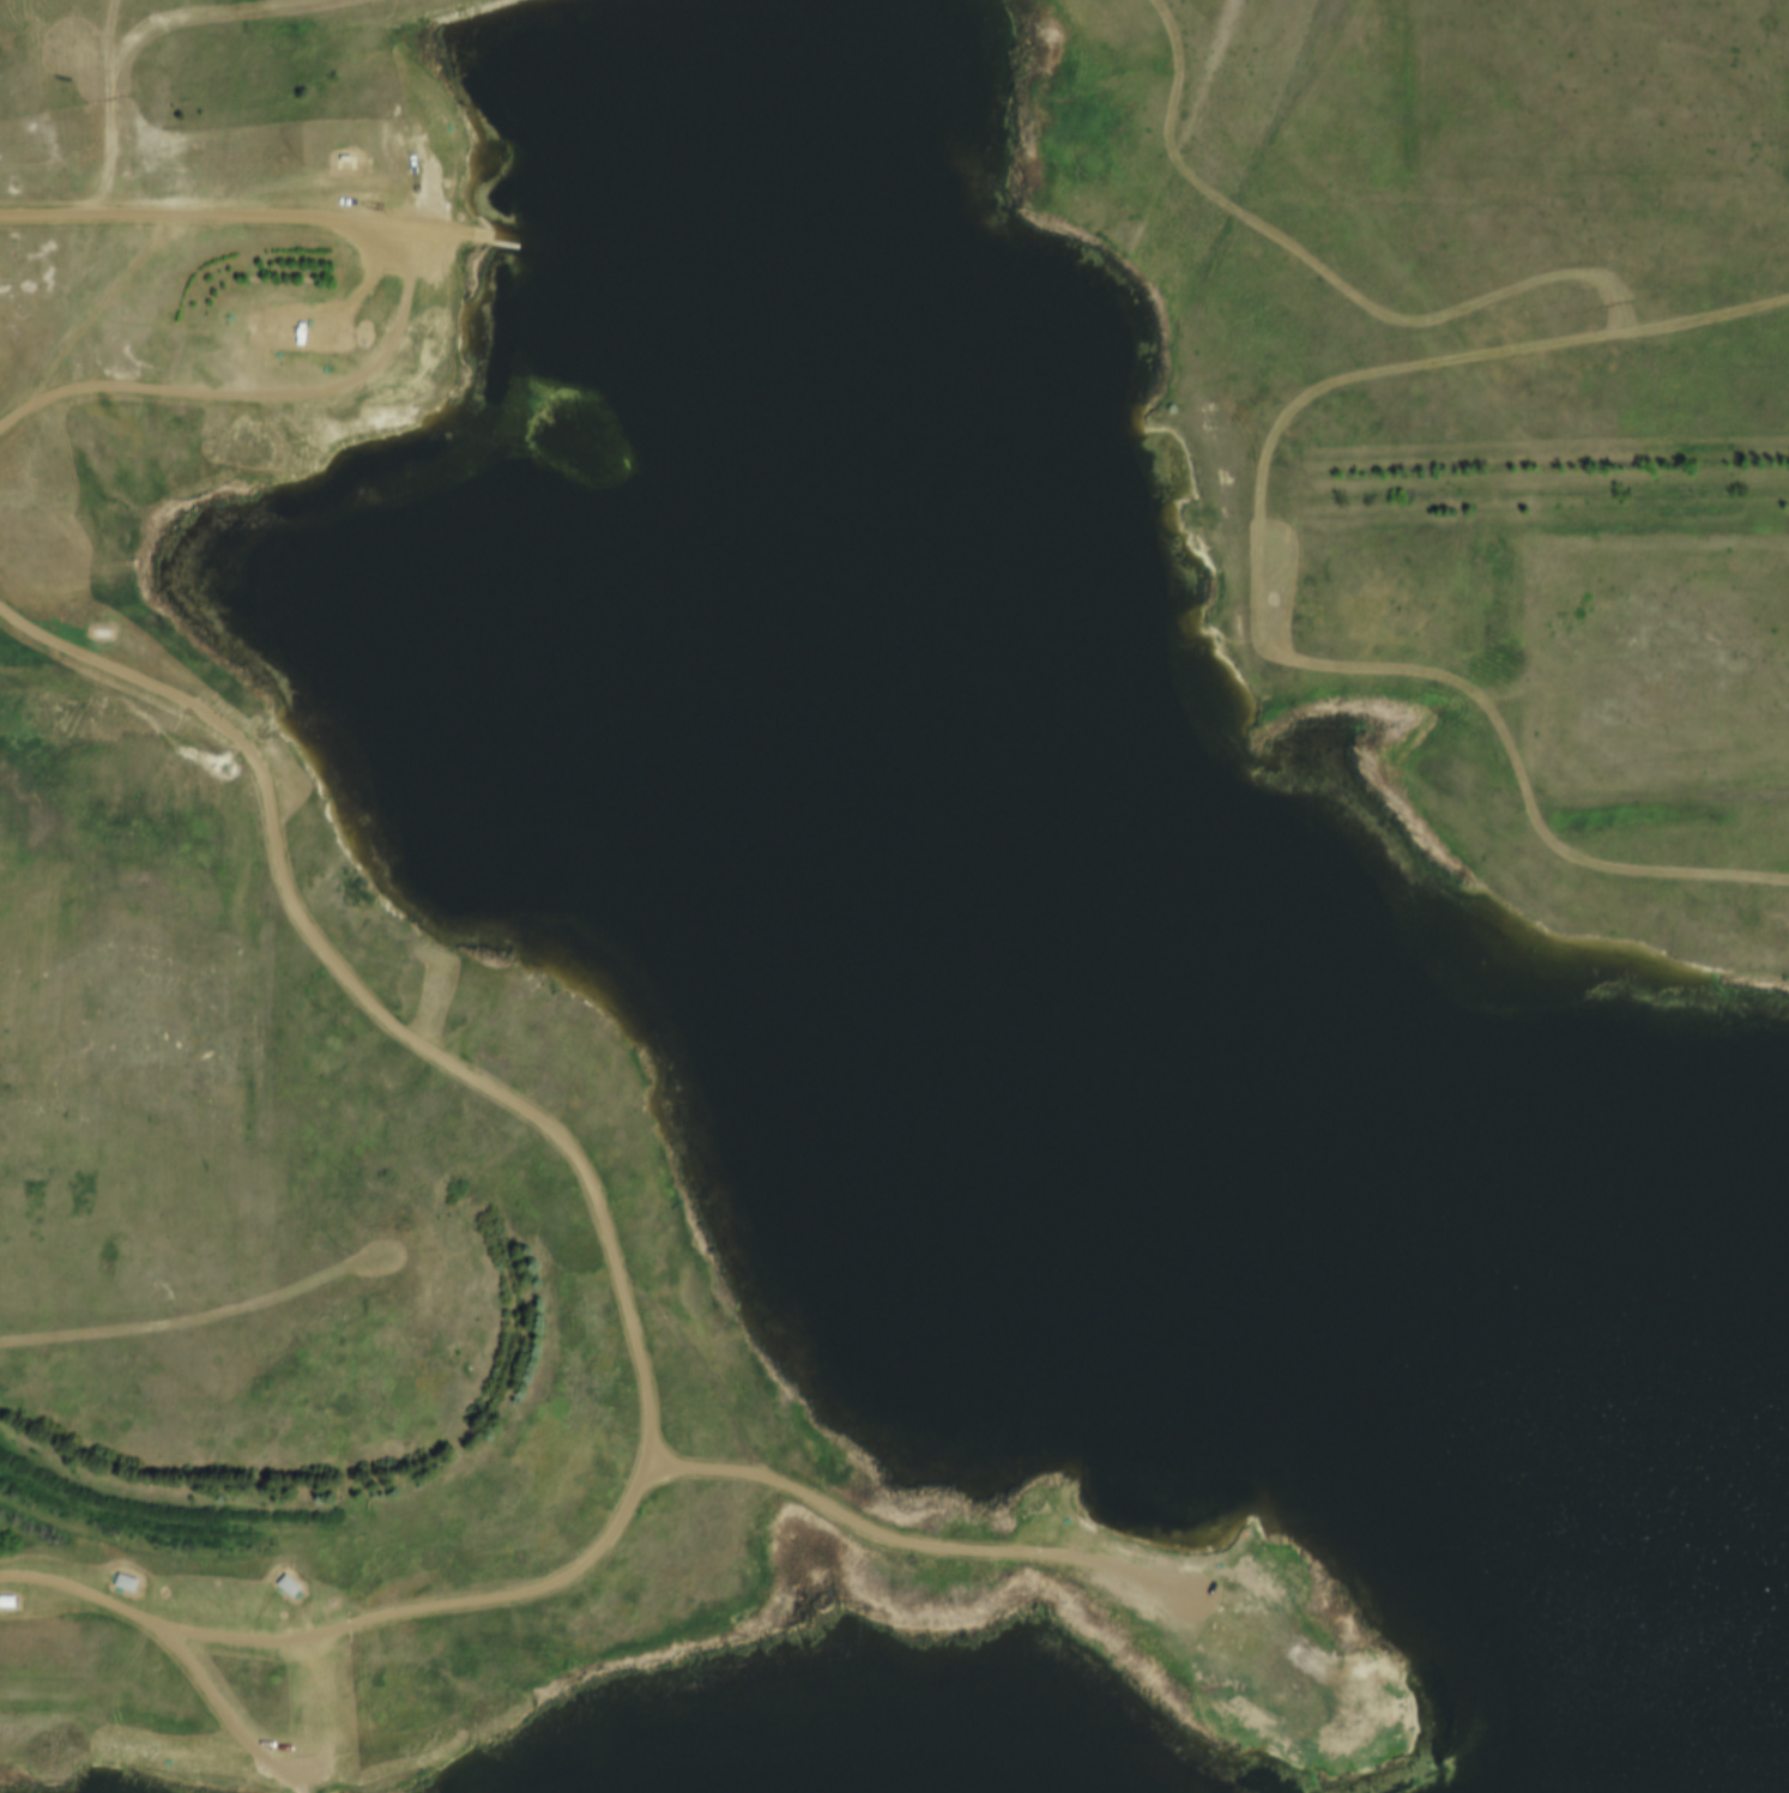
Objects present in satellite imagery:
dam: (254, 10)
road: (135, 42)
road: (238, 217)
road: (1326, 272)
road: (312, 301)
road: (95, 316)
road: (188, 391)
road: (1263, 582)
building: (108, 632)
road: (42, 1250)
road: (614, 1257)
road: (201, 1324)
building: (131, 1580)
building: (294, 1583)

